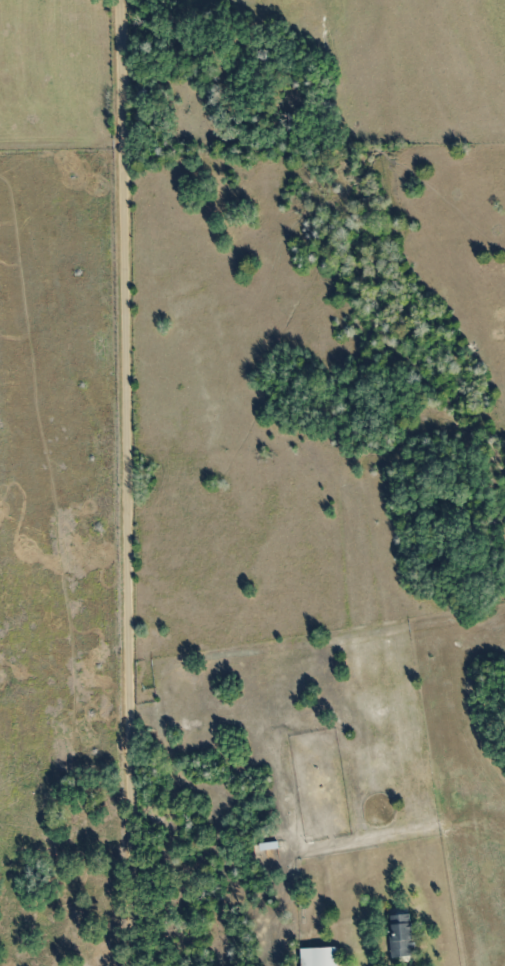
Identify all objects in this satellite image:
road: (129, 482)
building: (397, 935)
building: (317, 956)

